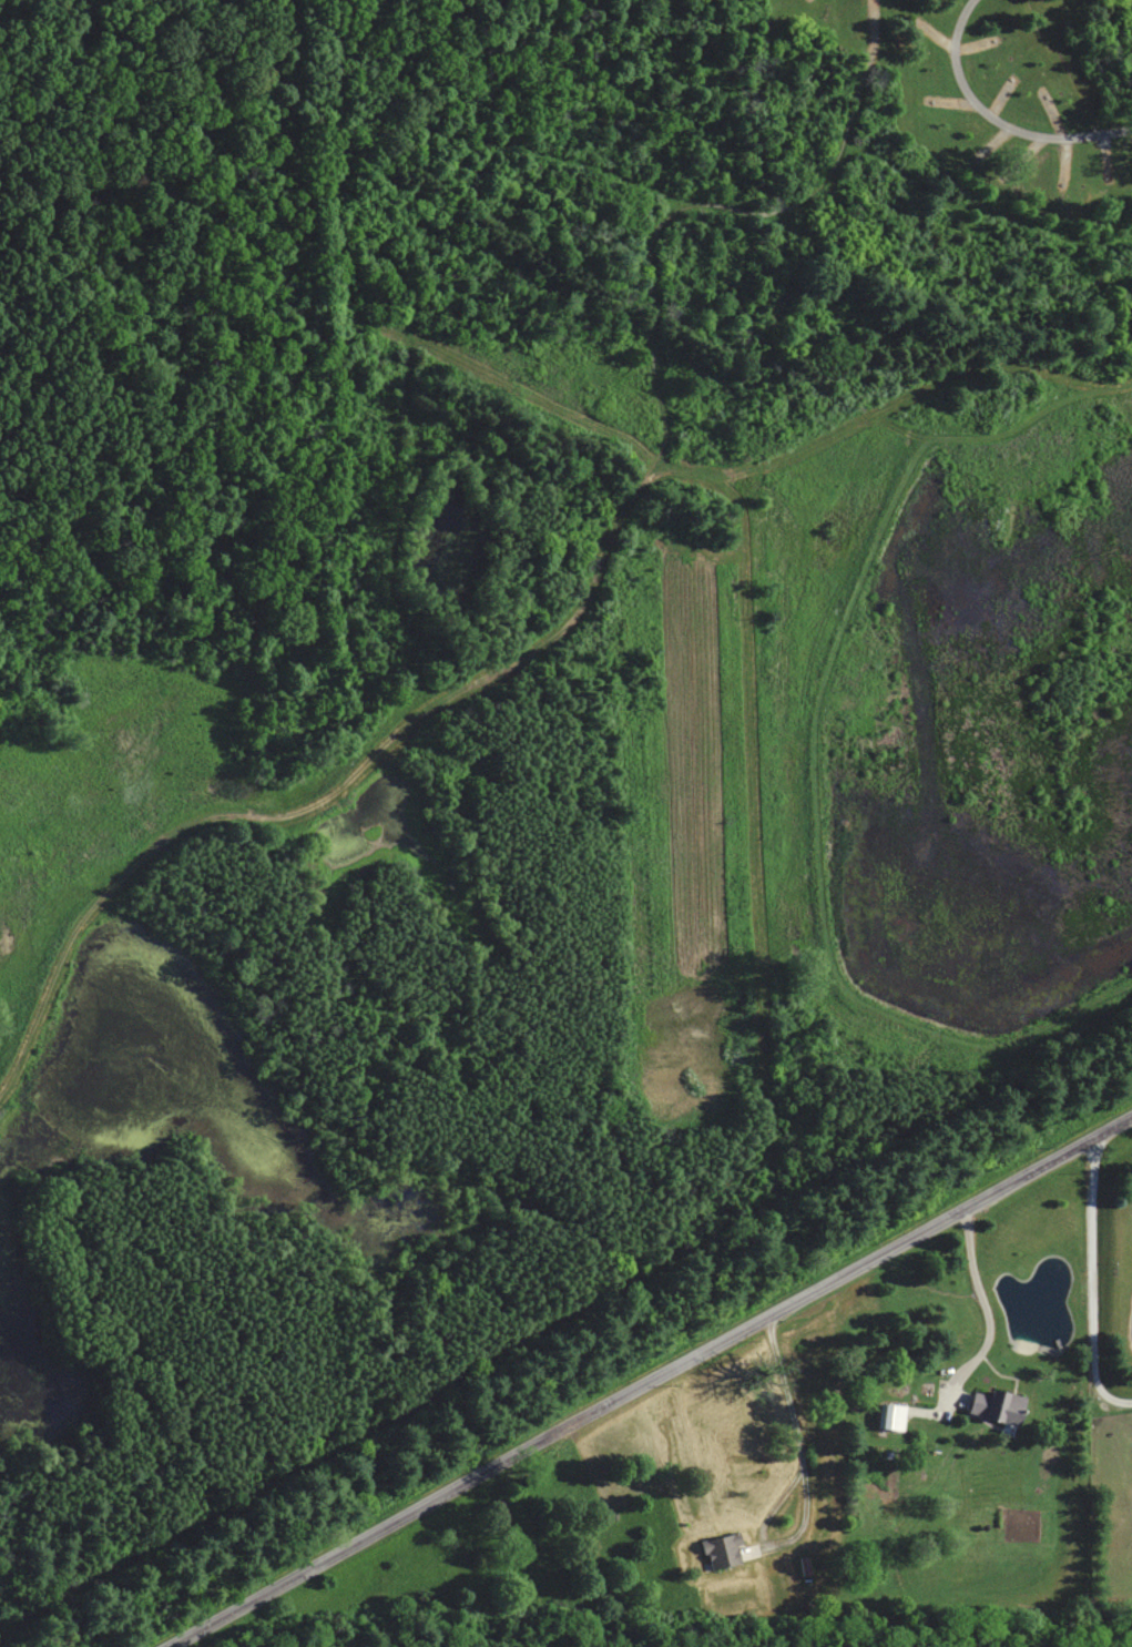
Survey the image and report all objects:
road: (745, 98)
road: (992, 120)
road: (400, 274)
road: (714, 458)
road: (625, 472)
road: (759, 1231)
road: (1106, 1277)
road: (989, 1305)
road: (646, 1379)
building: (996, 1409)
building: (890, 1417)
road: (818, 1493)
building: (722, 1551)

